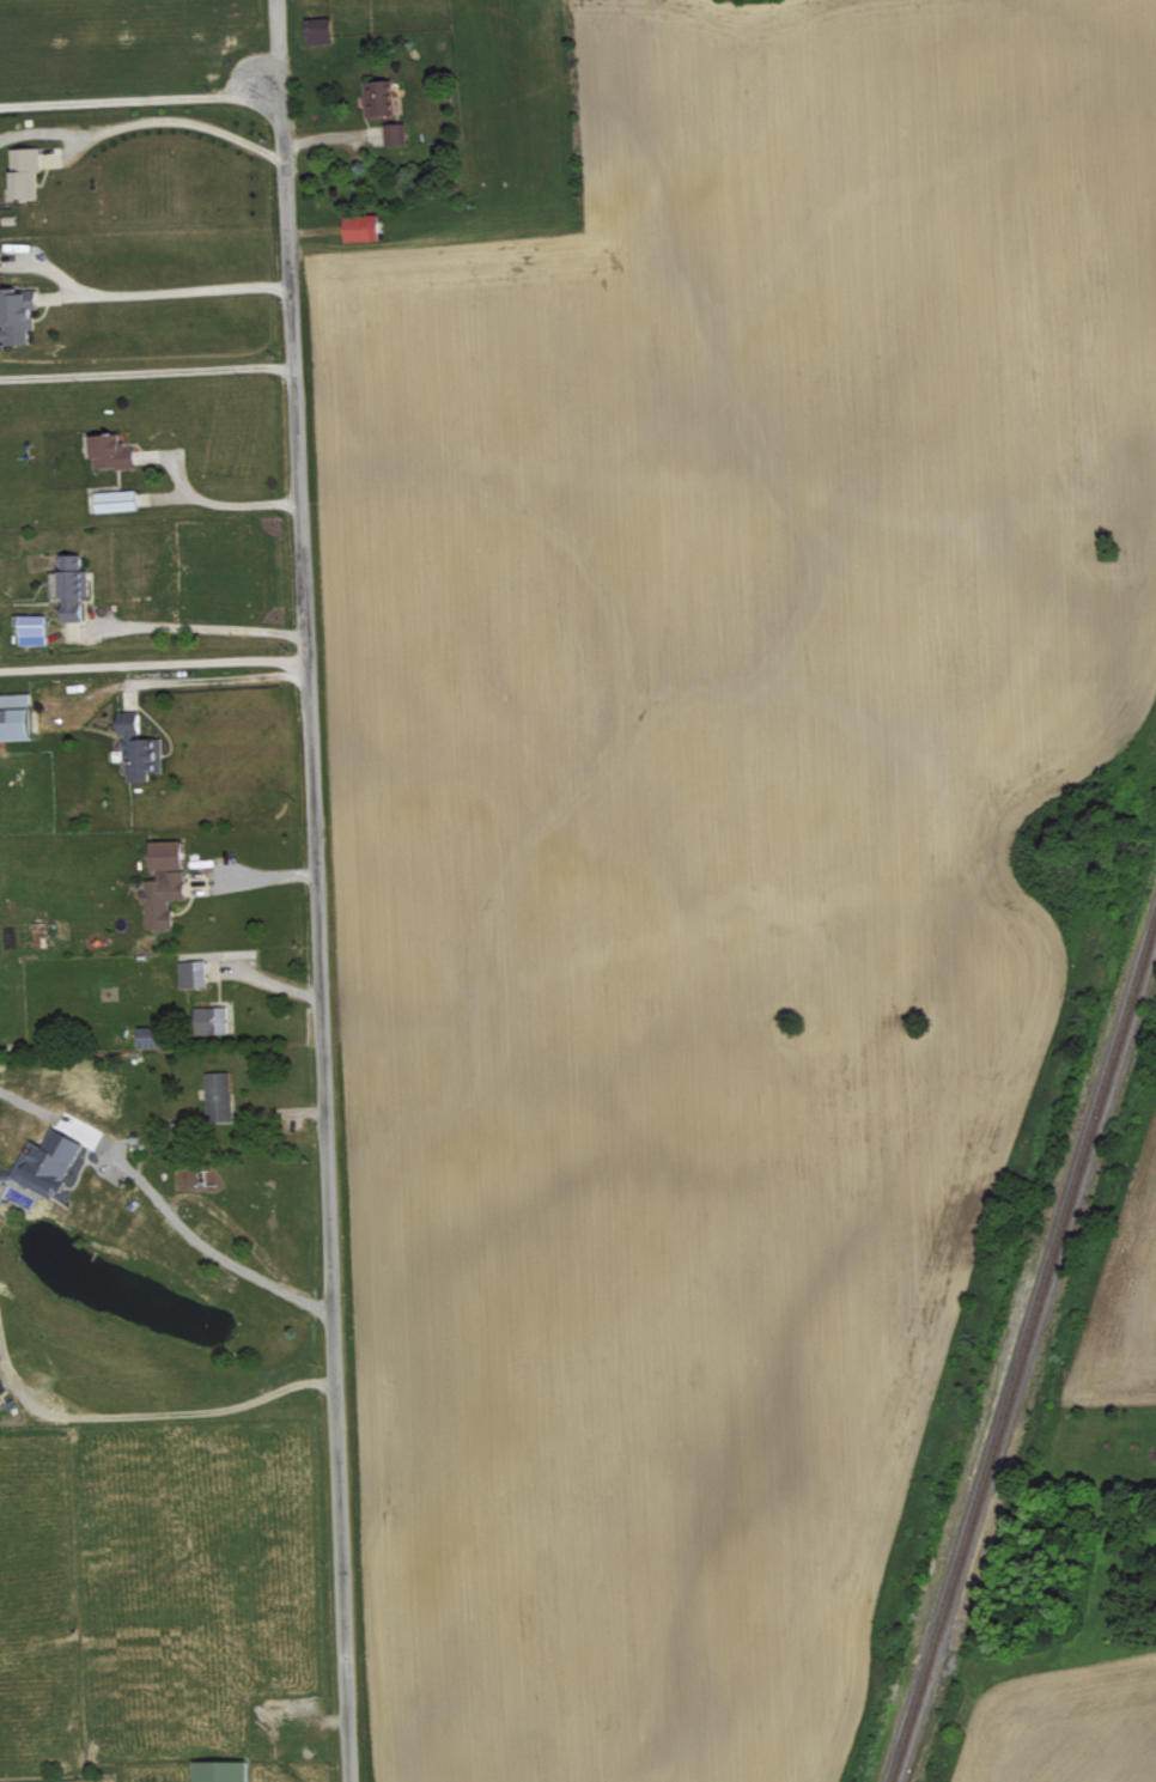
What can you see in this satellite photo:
building: (321, 29)
building: (381, 96)
road: (124, 101)
road: (160, 122)
building: (396, 133)
building: (32, 168)
building: (365, 226)
building: (0, 267)
road: (130, 294)
building: (19, 314)
road: (132, 373)
building: (114, 450)
building: (118, 499)
road: (214, 504)
building: (72, 584)
road: (193, 626)
building: (36, 628)
road: (151, 664)
road: (214, 680)
building: (17, 714)
building: (141, 747)
road: (251, 880)
building: (166, 883)
road: (312, 888)
building: (194, 973)
building: (213, 1018)
building: (153, 1035)
building: (220, 1095)
road: (59, 1117)
building: (50, 1163)
road: (208, 1247)
railway: (1022, 1337)
building: (2, 1388)
road: (145, 1413)
building: (223, 1770)

